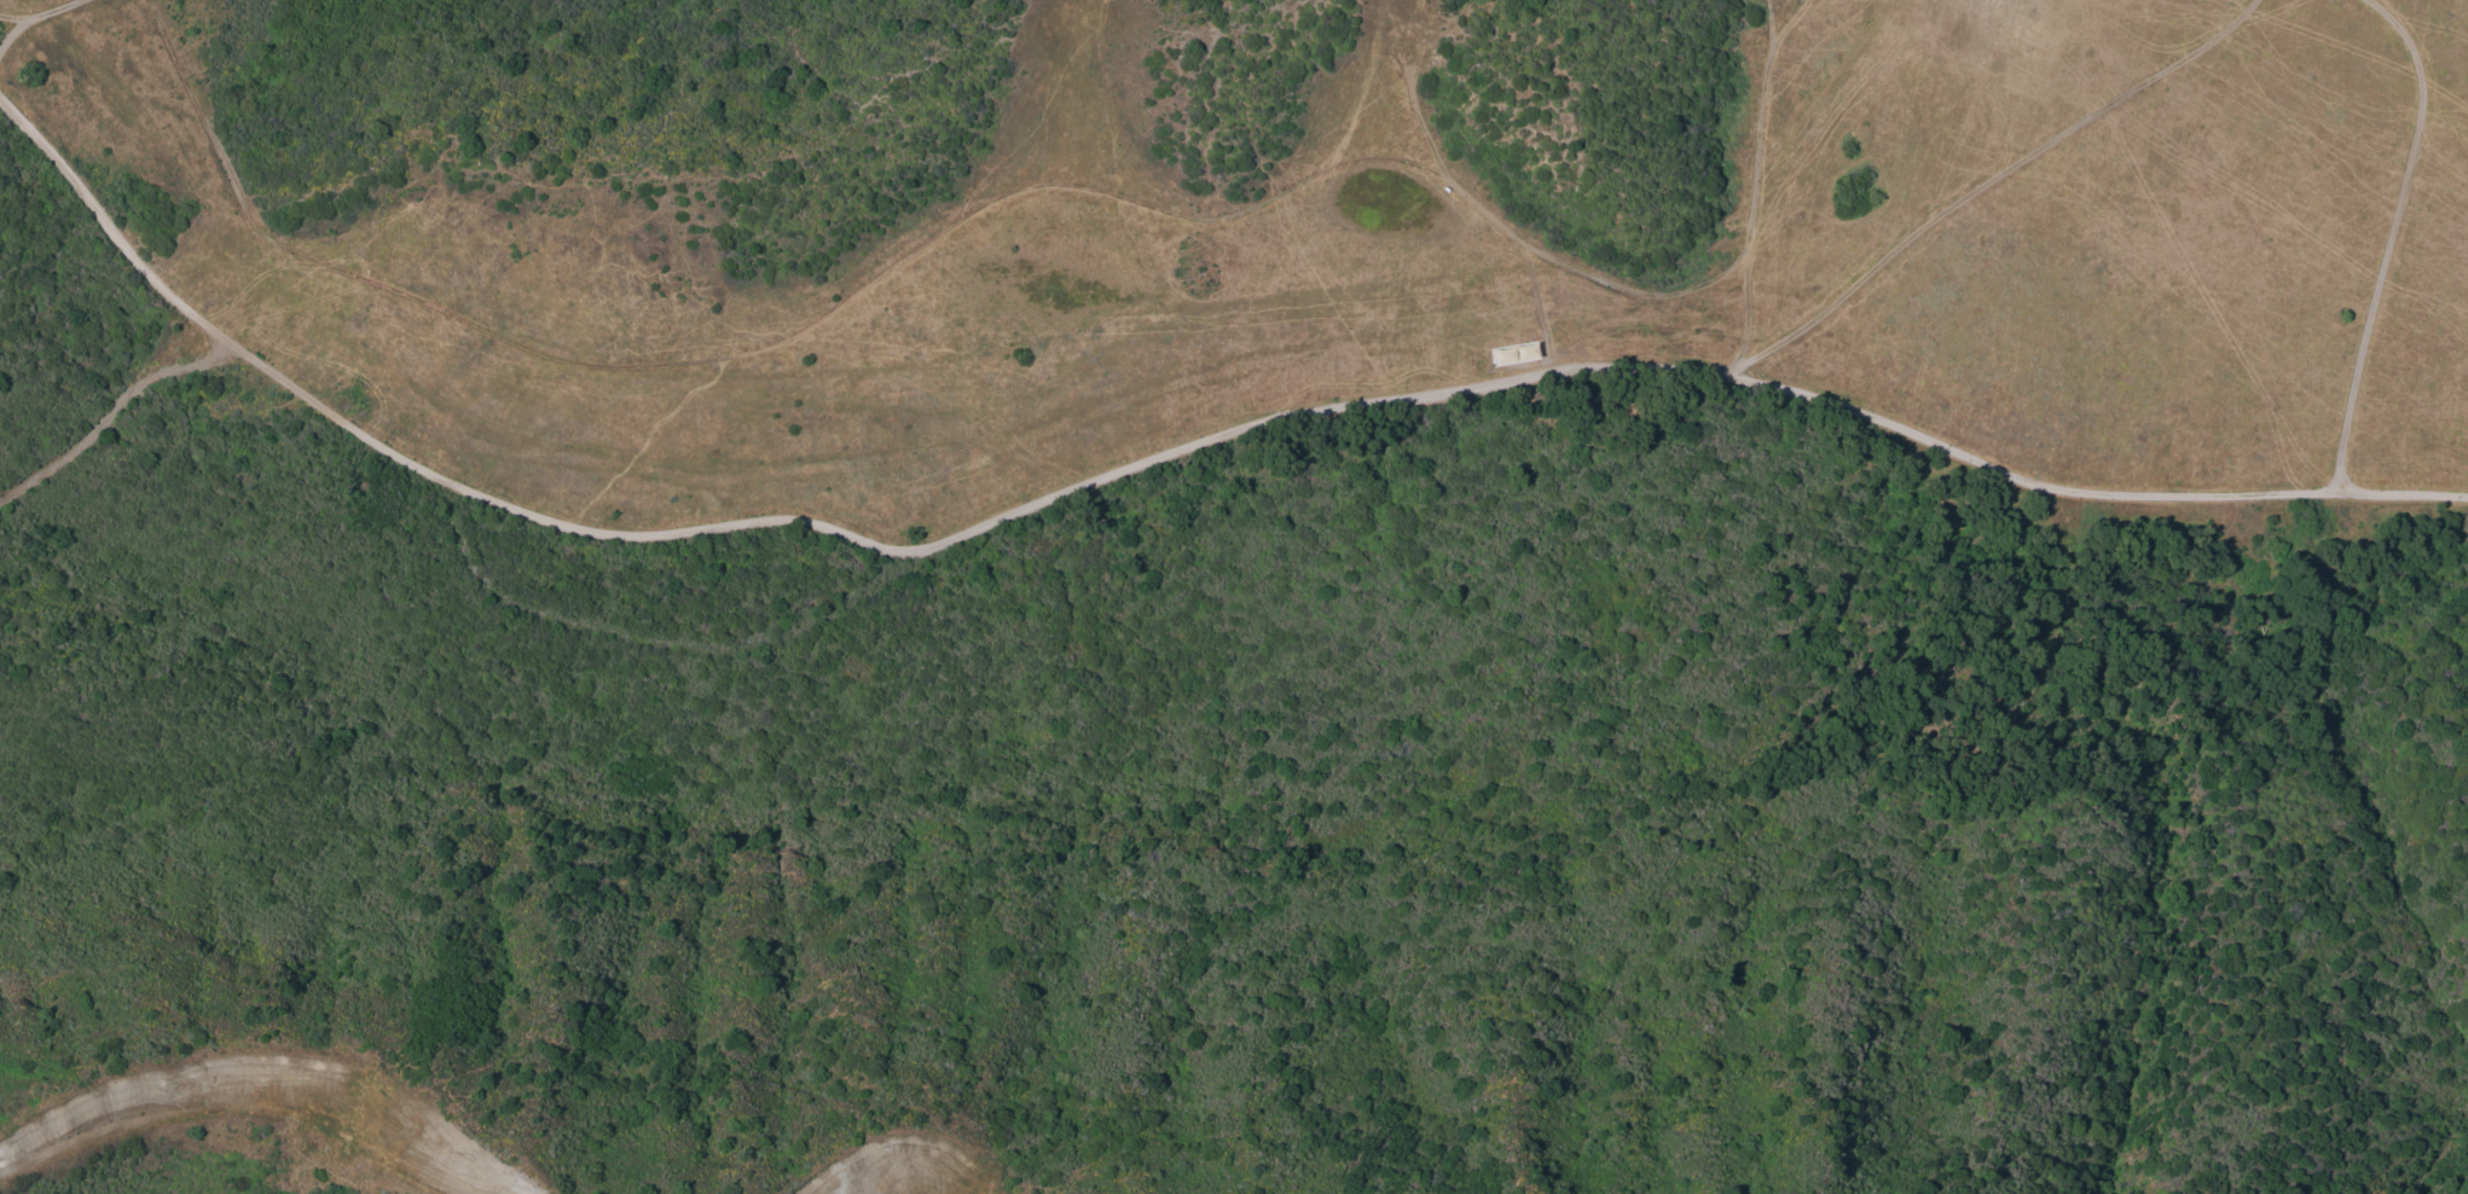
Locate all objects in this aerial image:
road: (50, 10)
road: (15, 17)
road: (15, 34)
road: (1159, 454)

